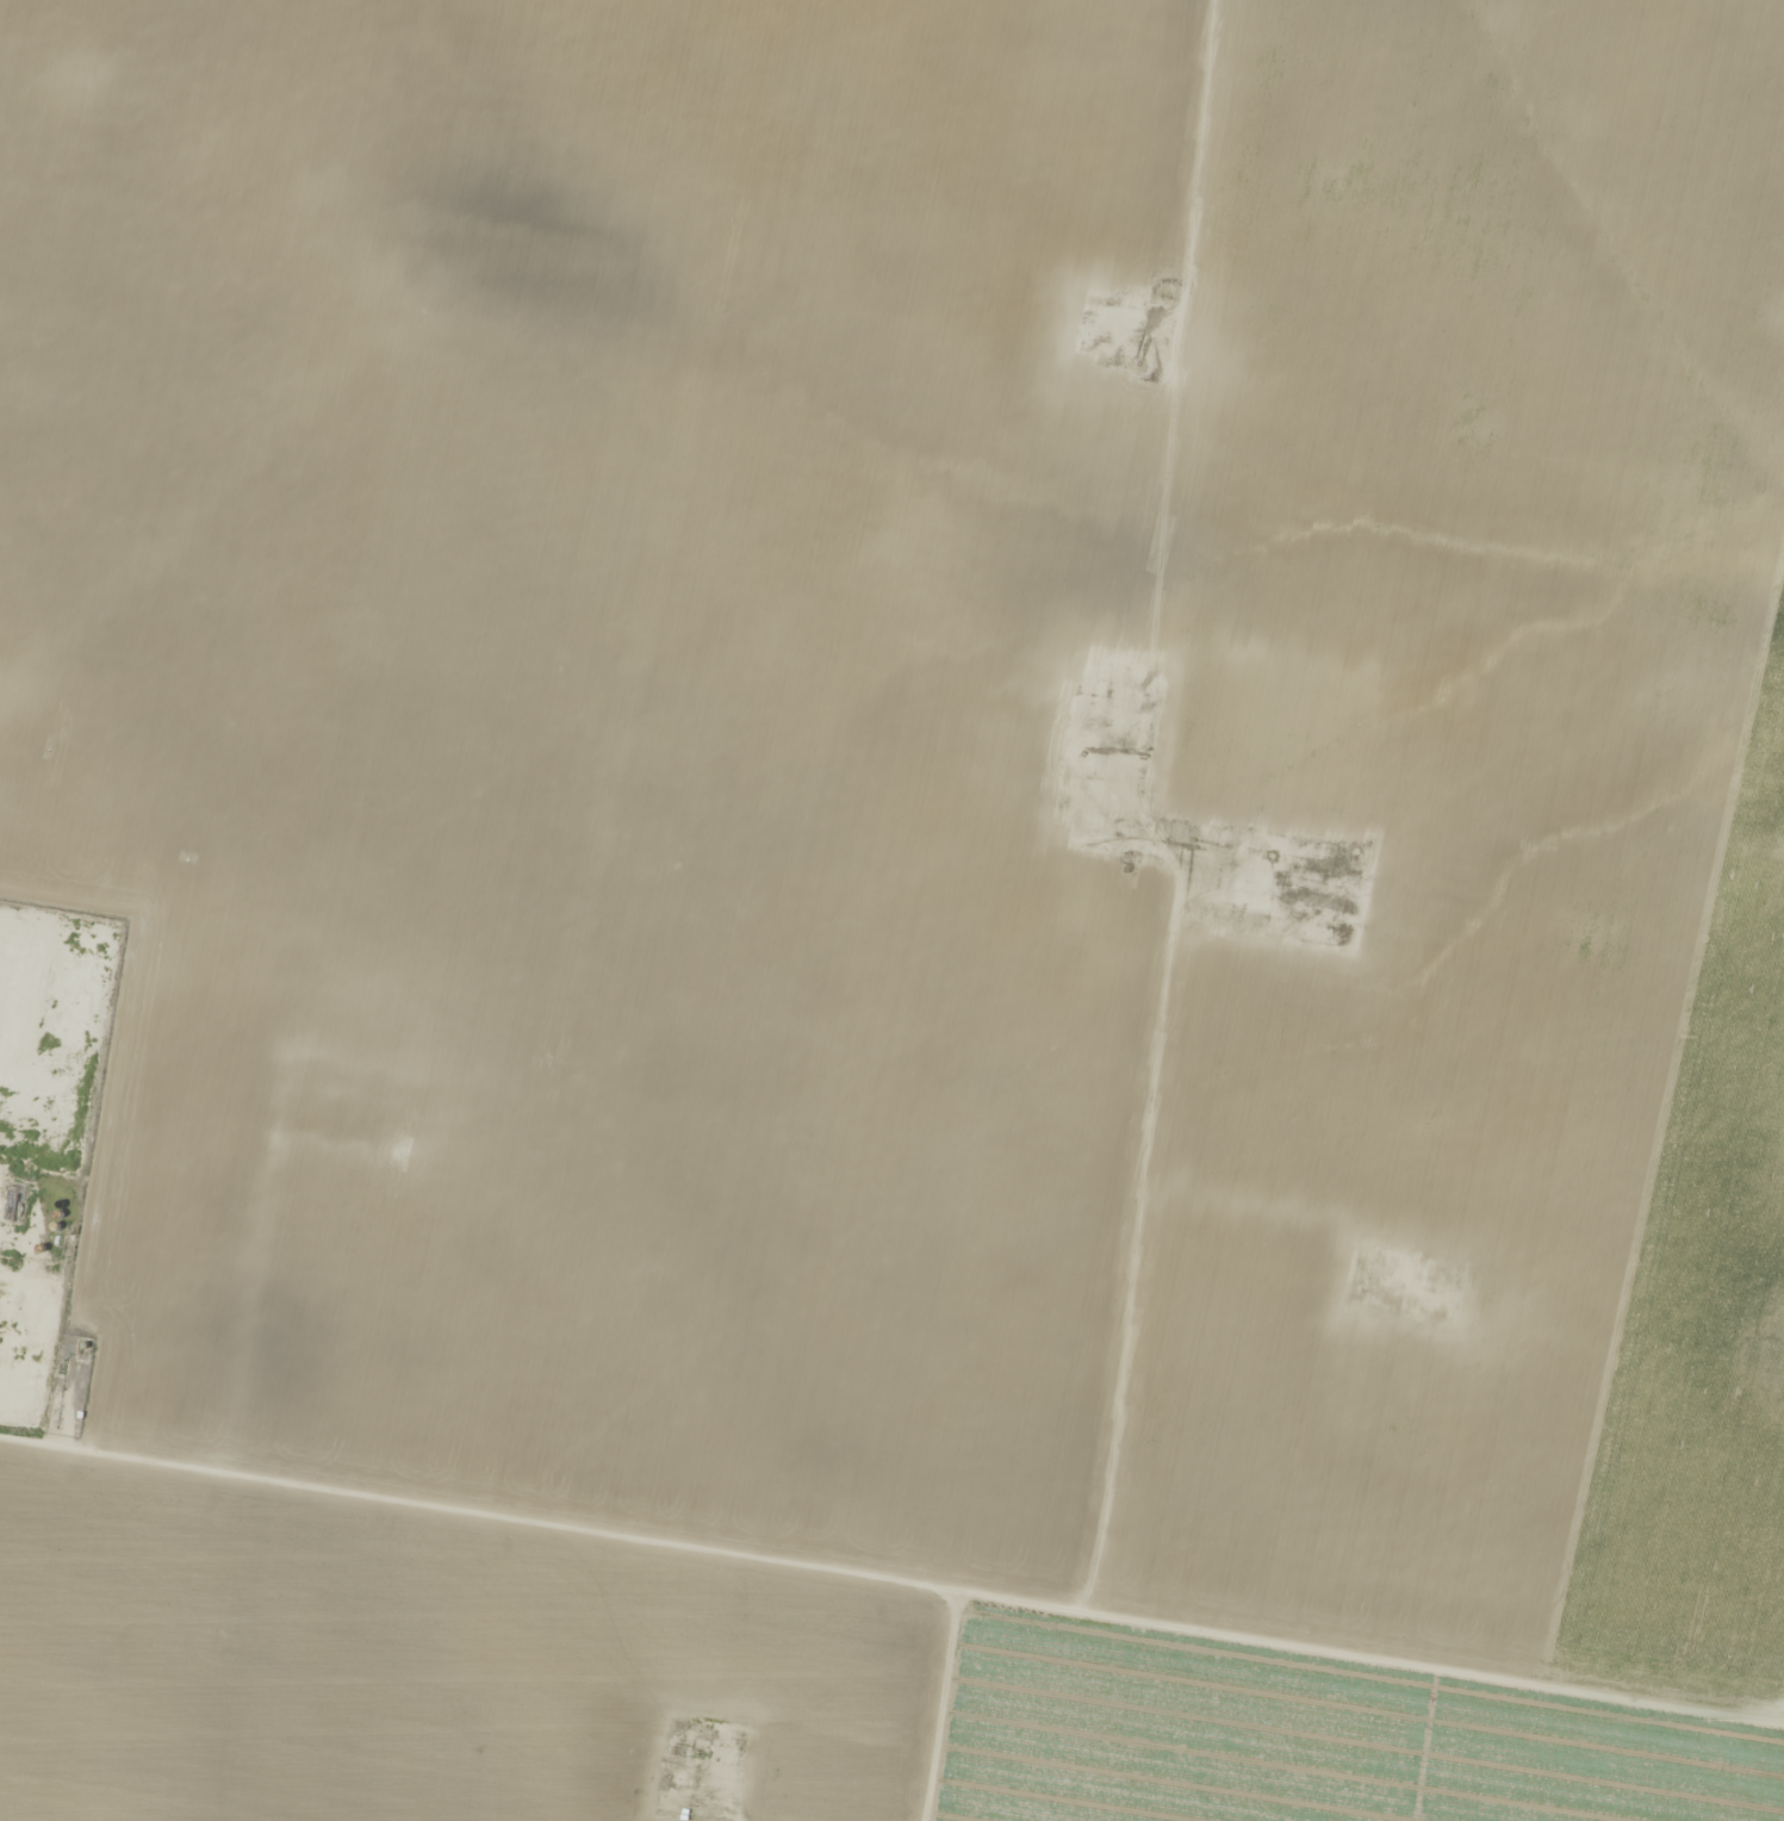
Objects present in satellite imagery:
road: (439, 1548)
road: (1212, 1697)

